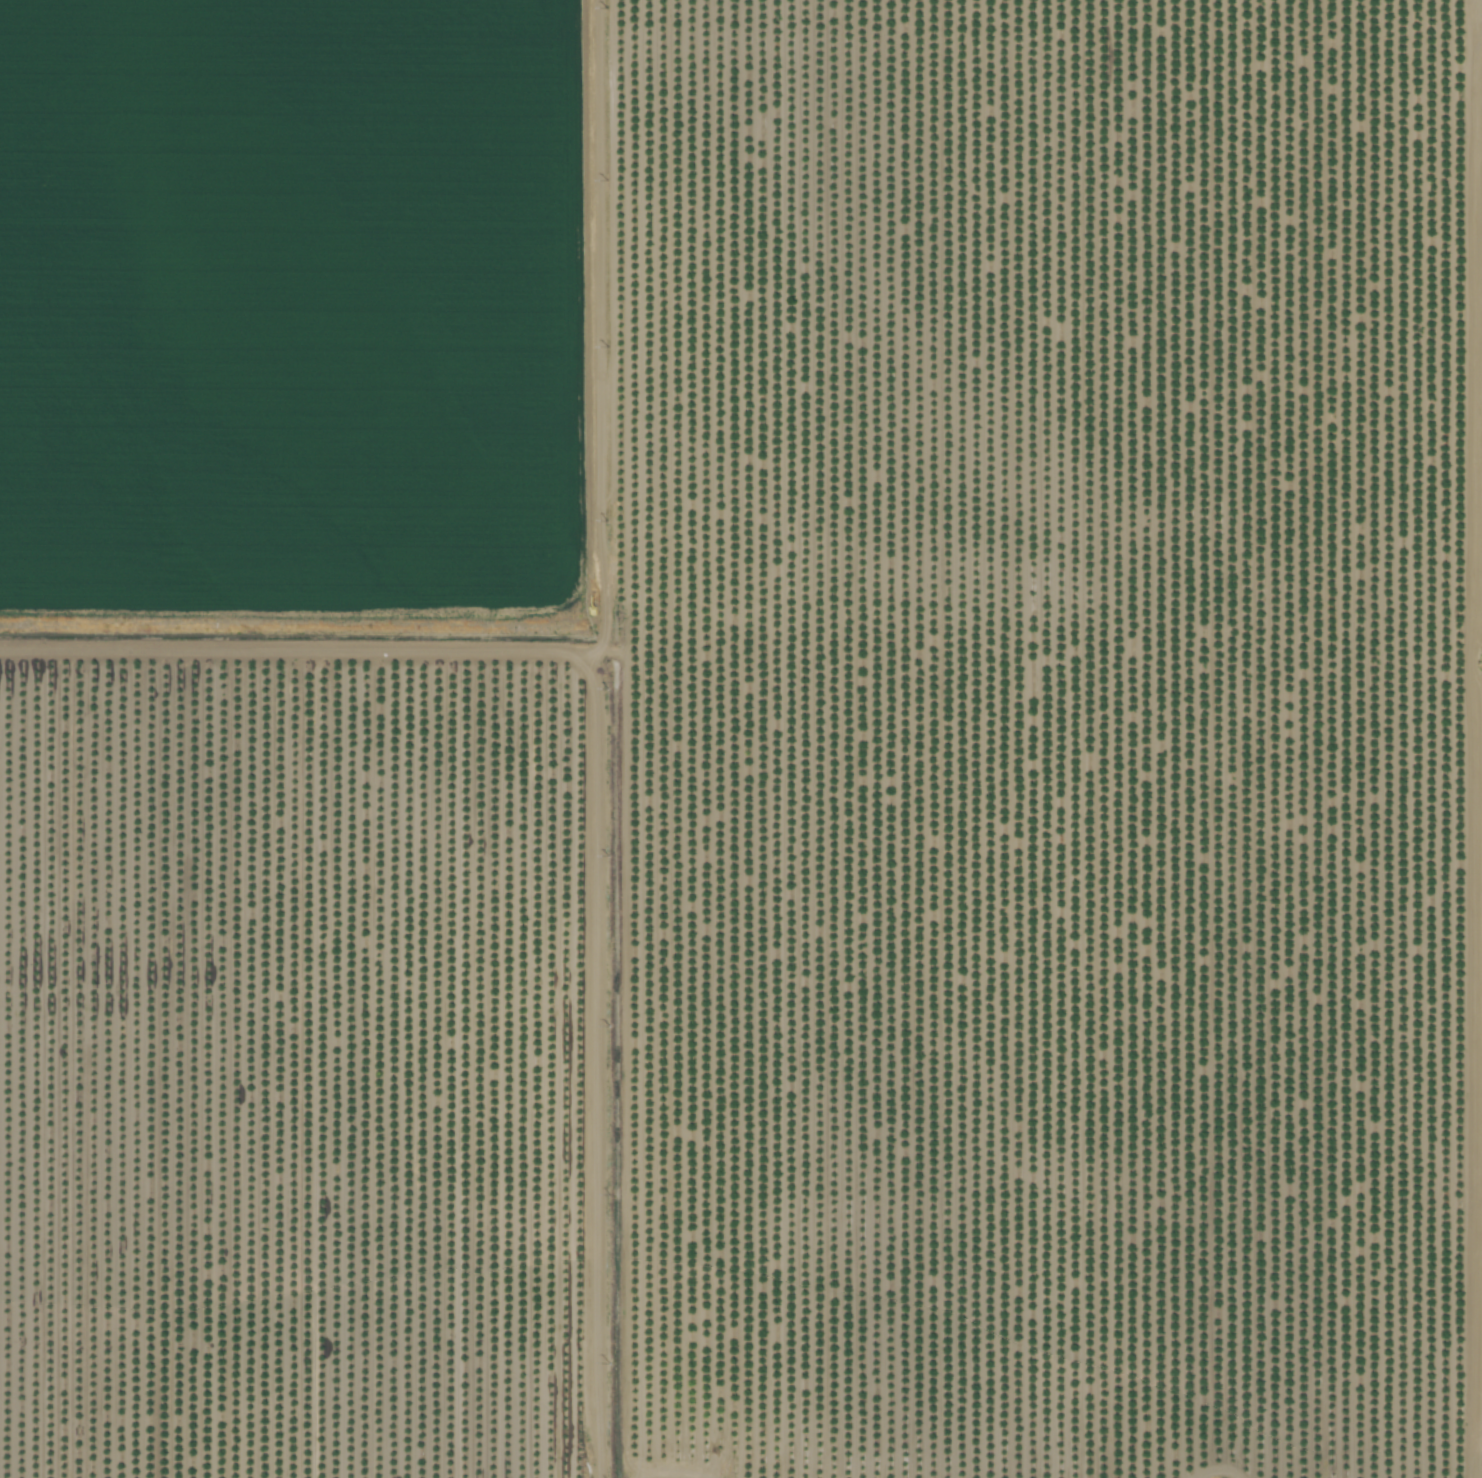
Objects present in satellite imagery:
road: (1477, 738)

